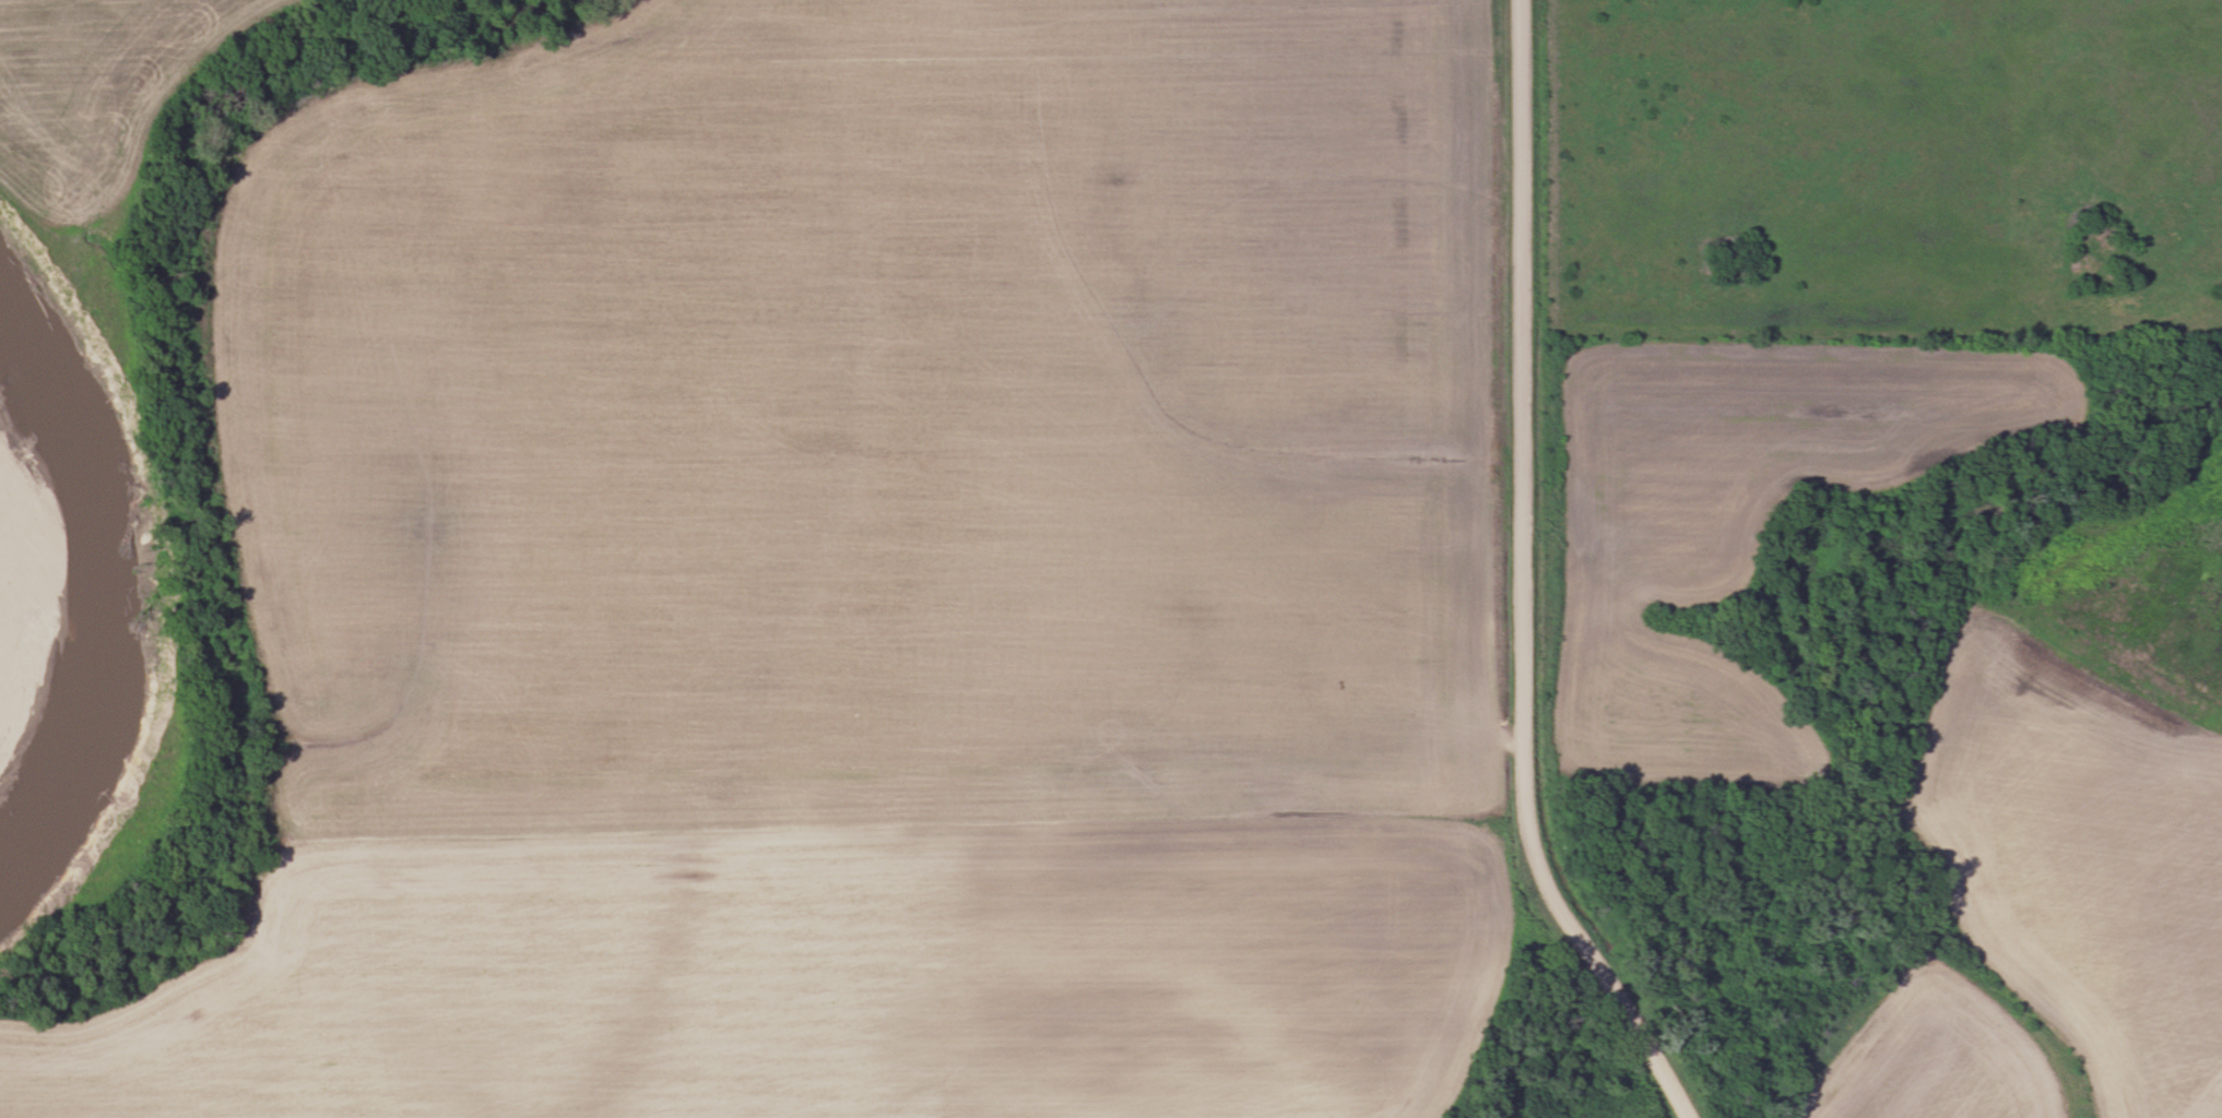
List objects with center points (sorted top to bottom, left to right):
road: (1522, 580)

